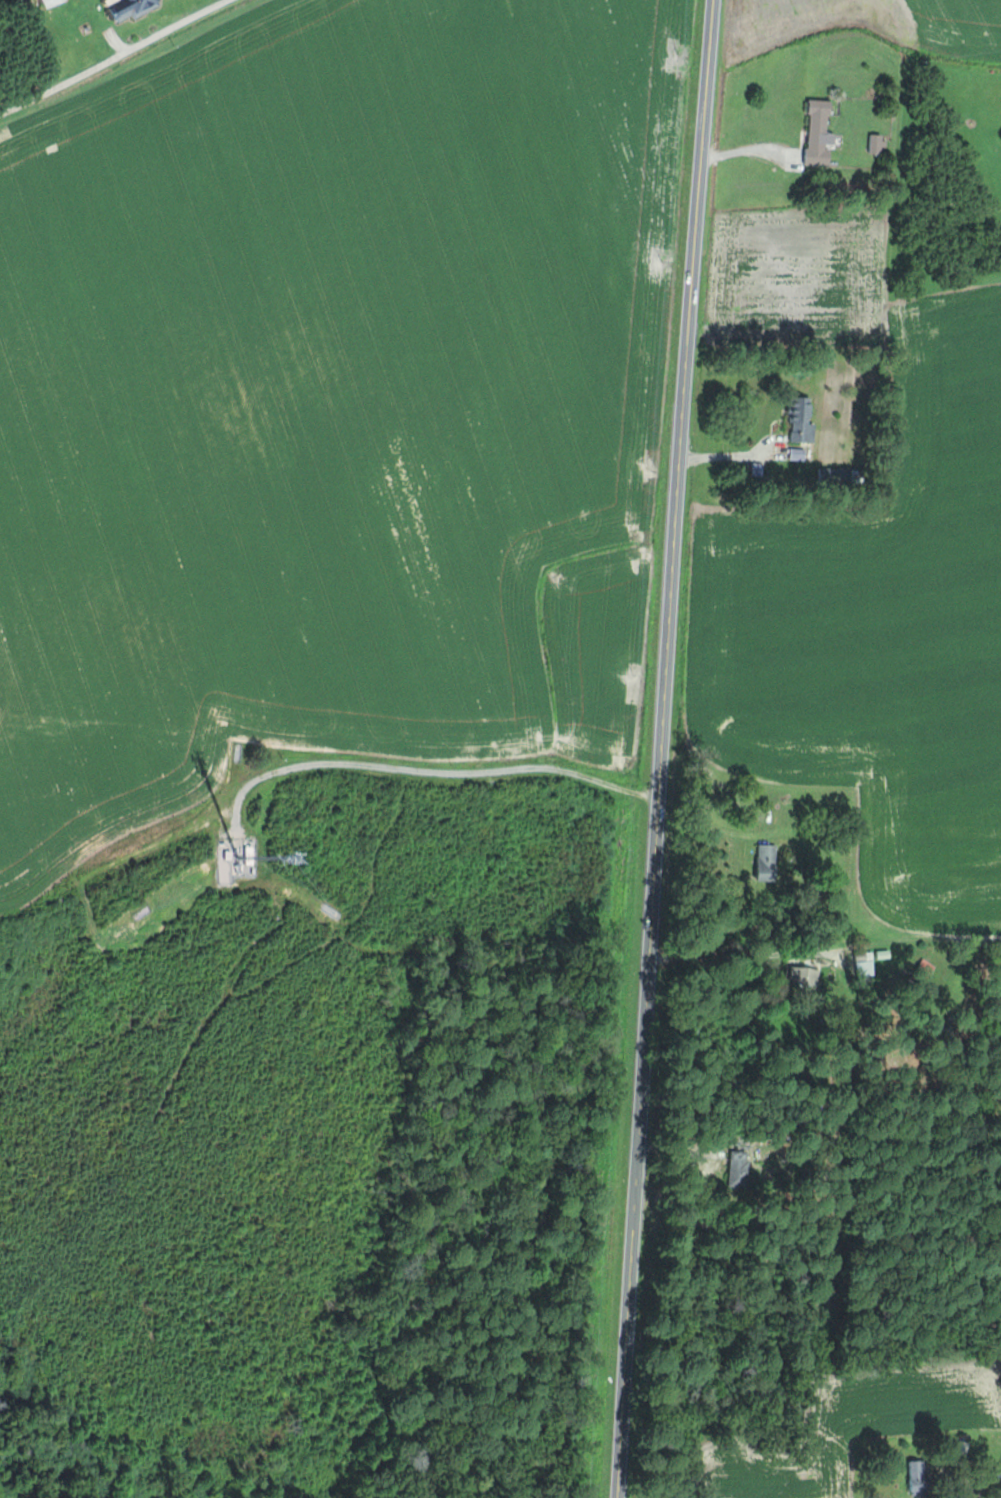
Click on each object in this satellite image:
building: (55, 2)
building: (129, 8)
road: (120, 59)
building: (821, 134)
building: (877, 144)
road: (745, 149)
building: (803, 418)
building: (843, 476)
road: (659, 748)
road: (433, 769)
building: (771, 861)
building: (241, 864)
building: (867, 963)
building: (807, 975)
building: (741, 1169)
building: (985, 1461)
building: (920, 1477)

